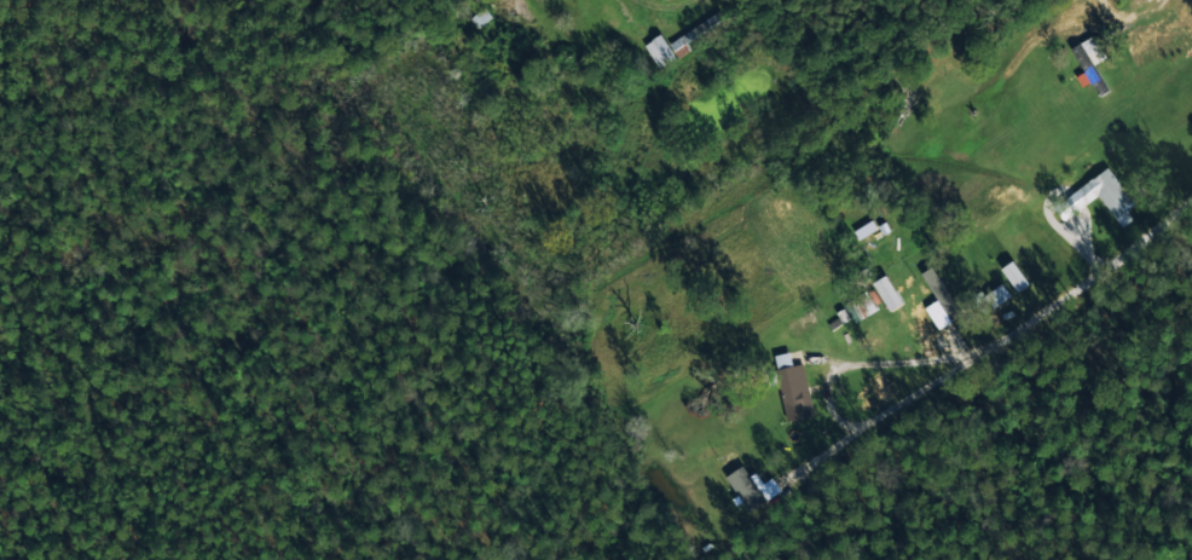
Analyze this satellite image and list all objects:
building: (696, 31)
building: (659, 48)
building: (1089, 62)
building: (1109, 192)
building: (1014, 273)
building: (887, 290)
building: (860, 306)
building: (793, 386)
building: (745, 486)

